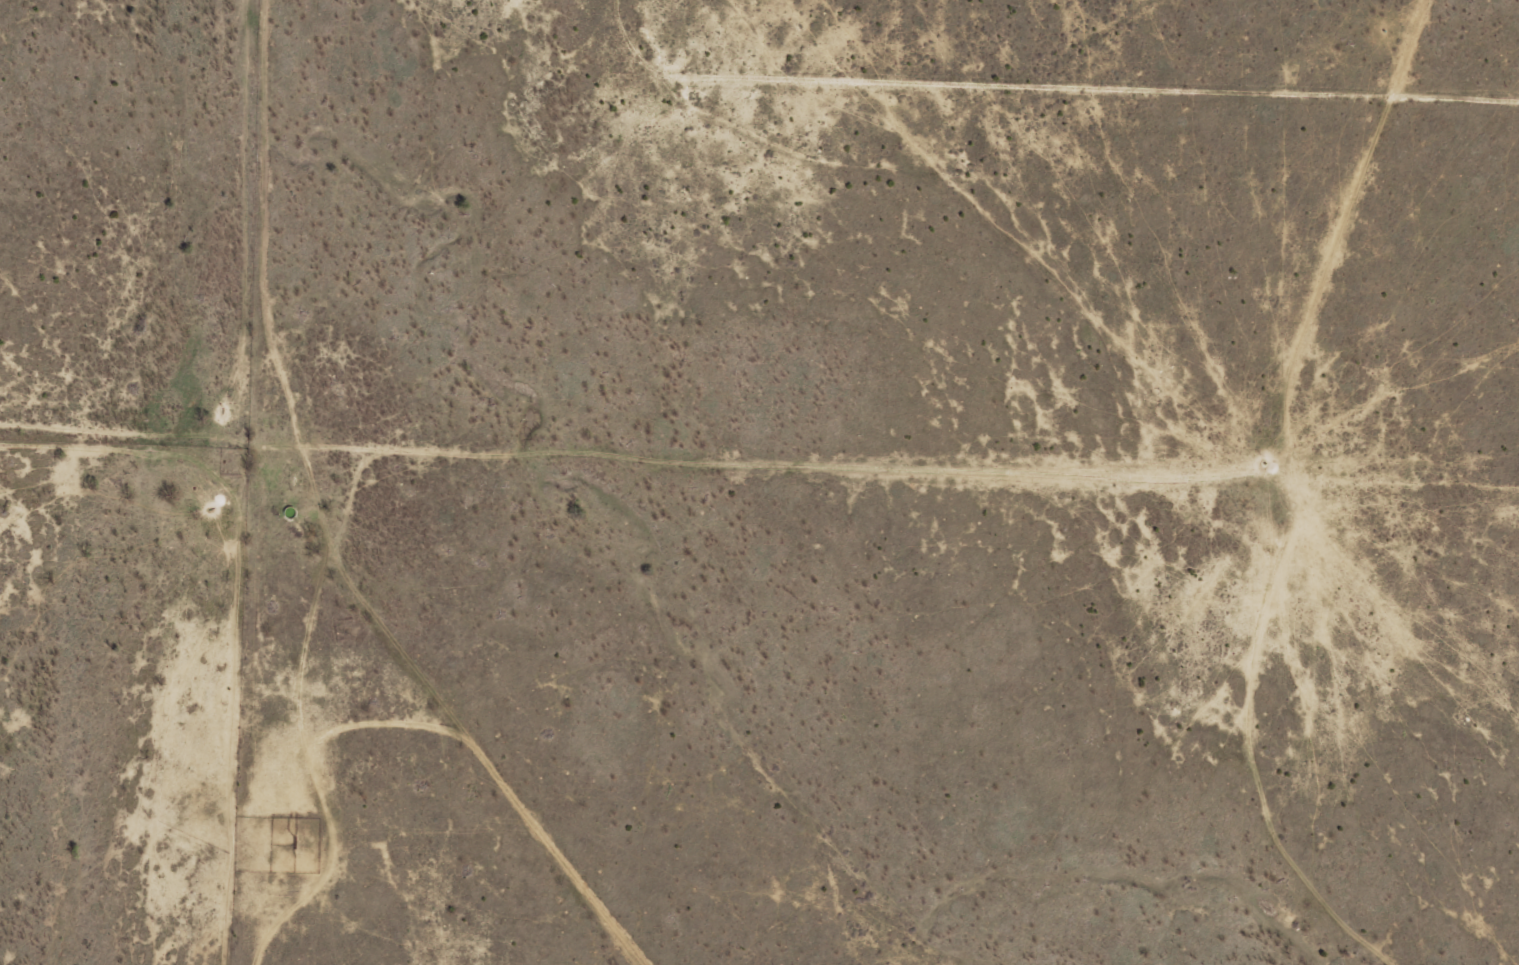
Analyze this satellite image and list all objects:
road: (346, 607)

